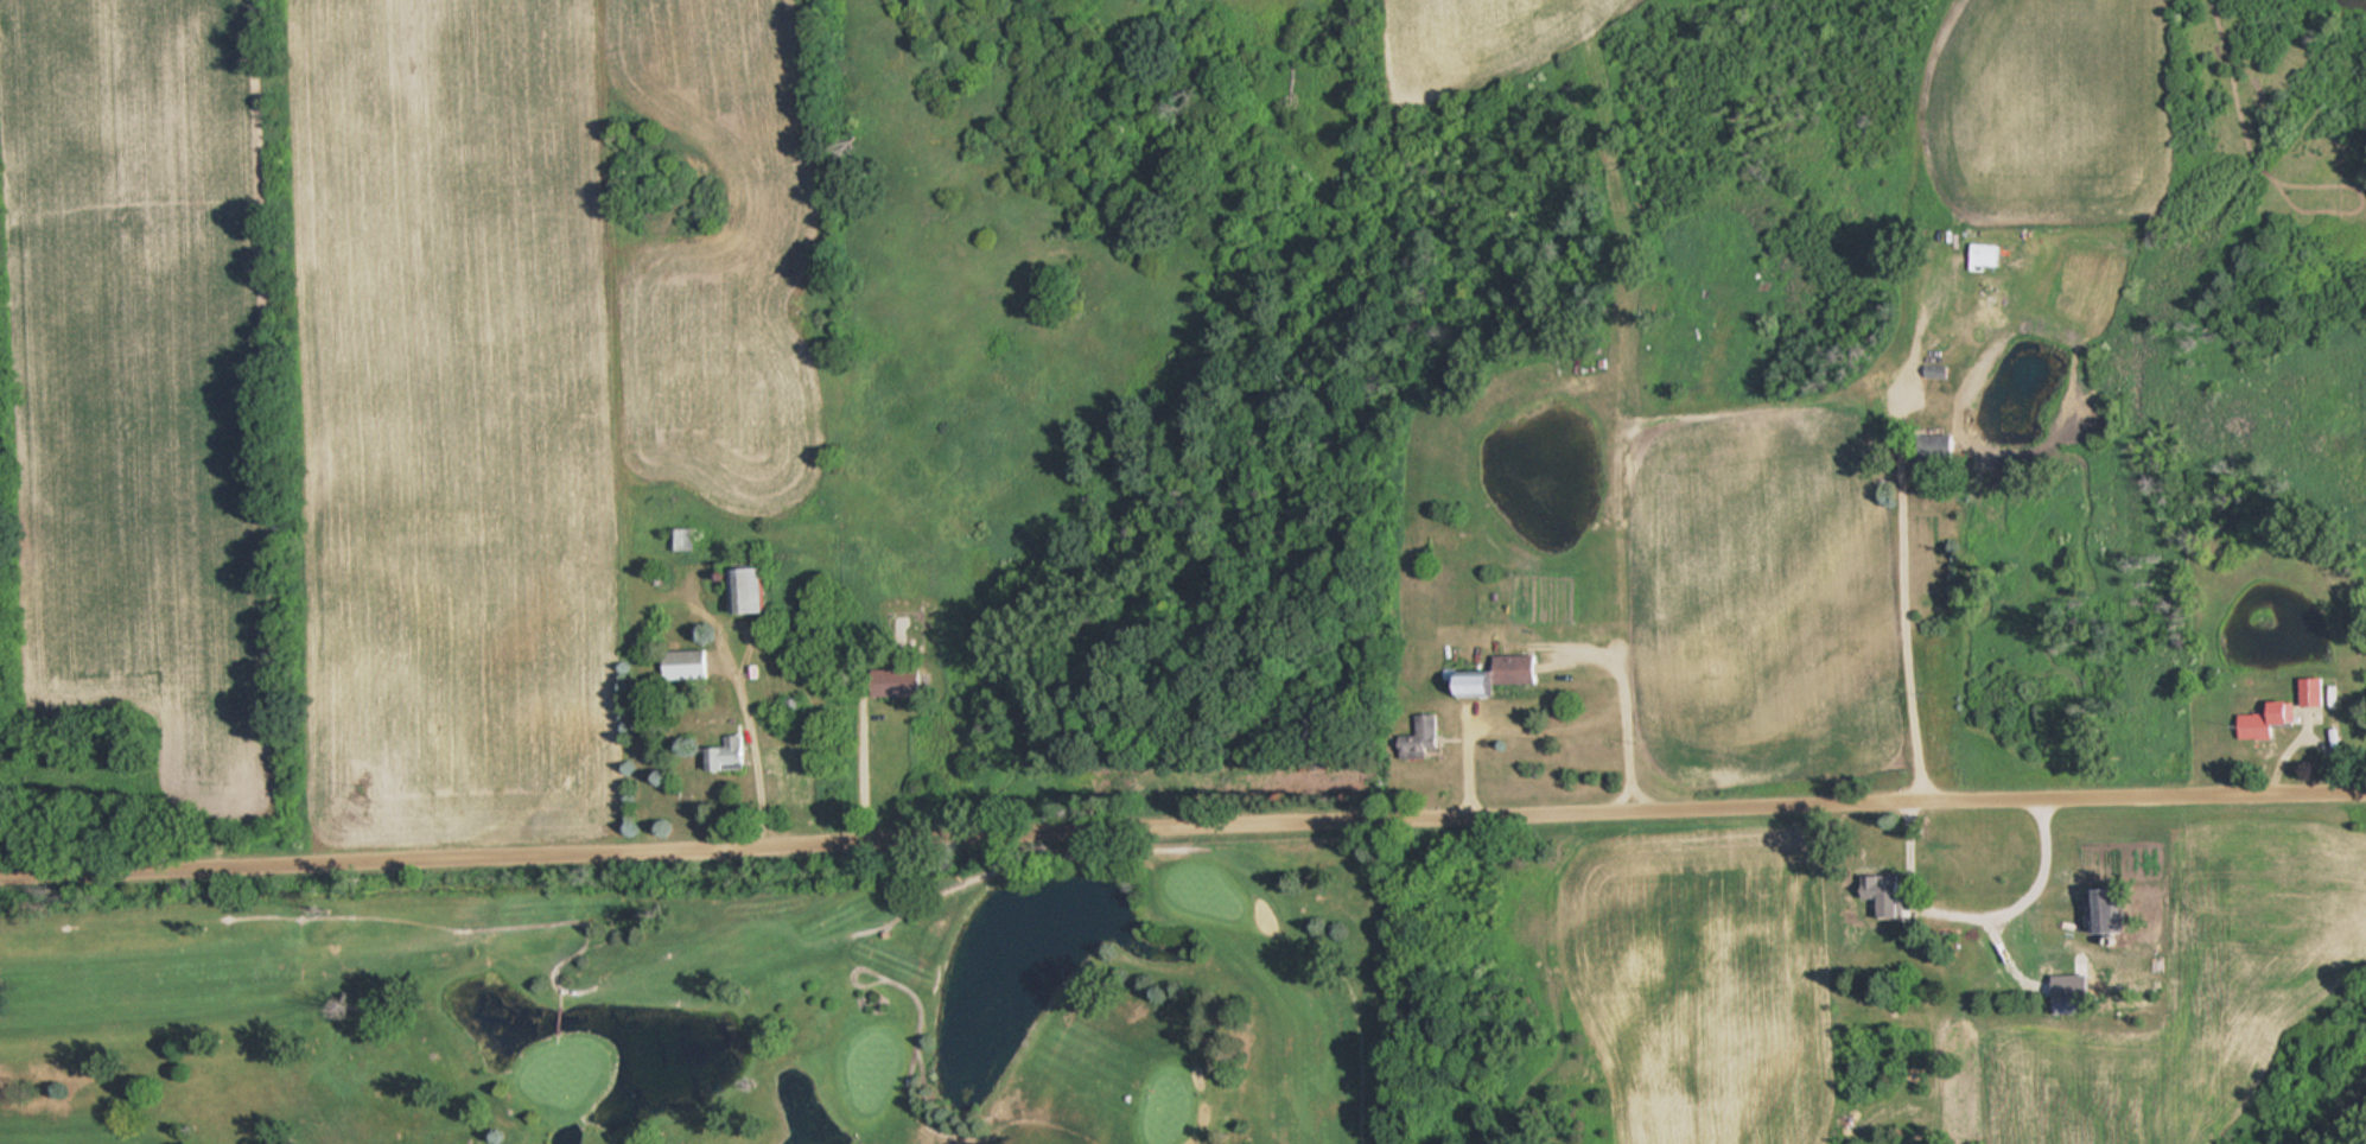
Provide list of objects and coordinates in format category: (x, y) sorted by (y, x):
building: (1989, 255)
building: (683, 539)
building: (757, 590)
building: (688, 665)
building: (1497, 676)
building: (903, 682)
building: (2315, 691)
building: (2269, 719)
building: (1431, 726)
building: (734, 754)
road: (1182, 820)
building: (1885, 896)
building: (2117, 910)
building: (2074, 987)
park: (732, 1005)

